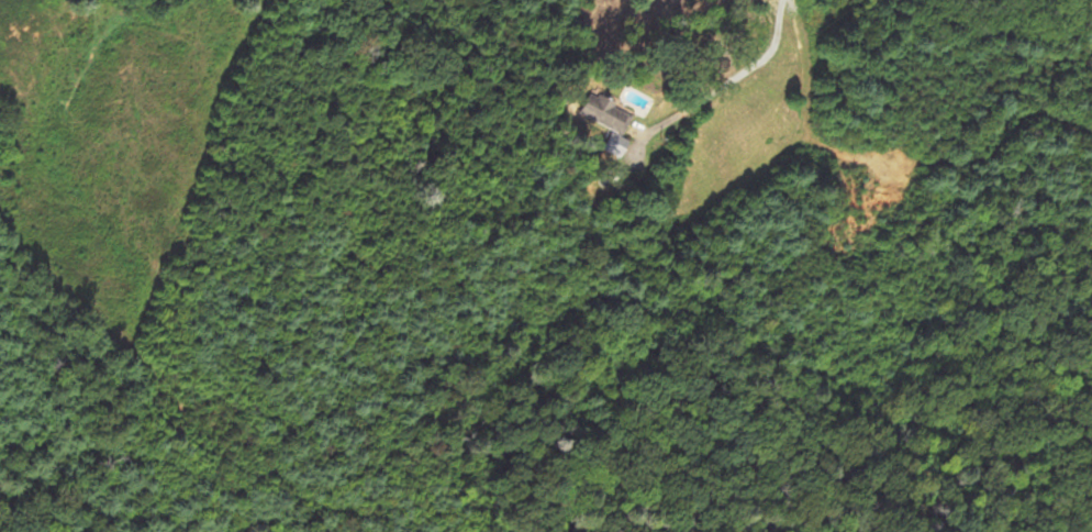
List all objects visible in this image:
road: (723, 67)
building: (610, 123)

